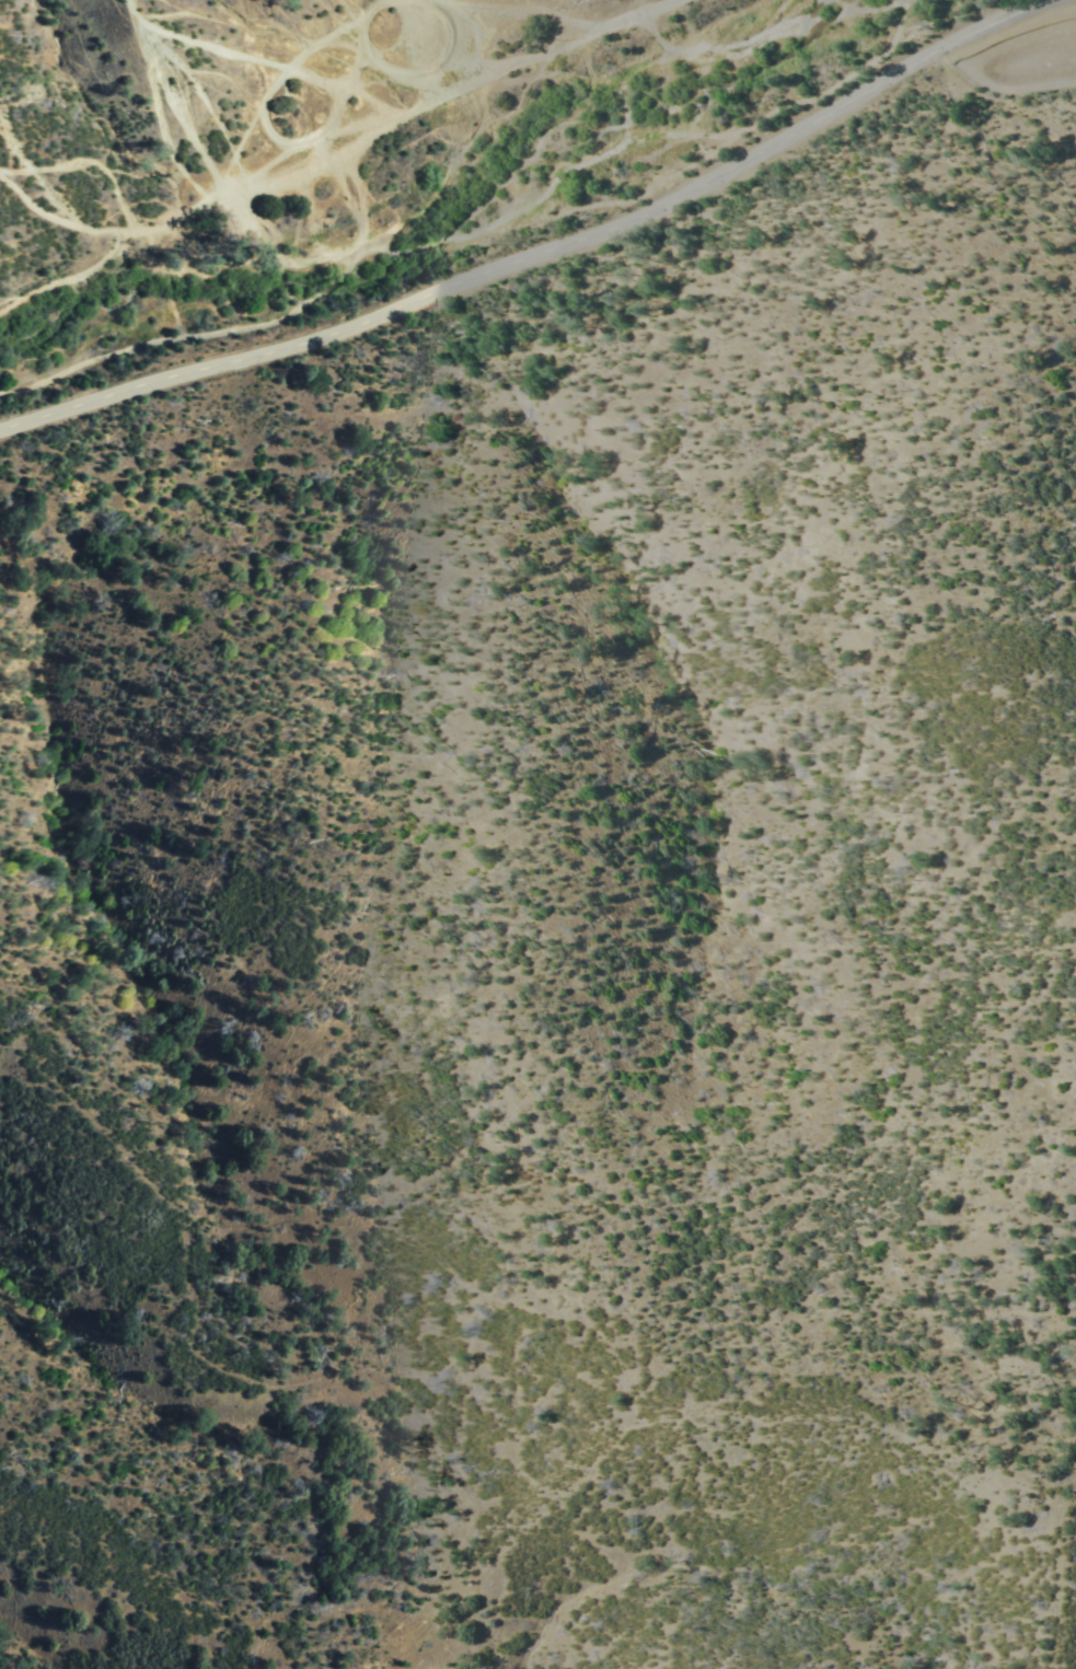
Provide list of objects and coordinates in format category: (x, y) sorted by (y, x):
road: (362, 141)
road: (109, 212)
road: (65, 250)
road: (540, 252)

